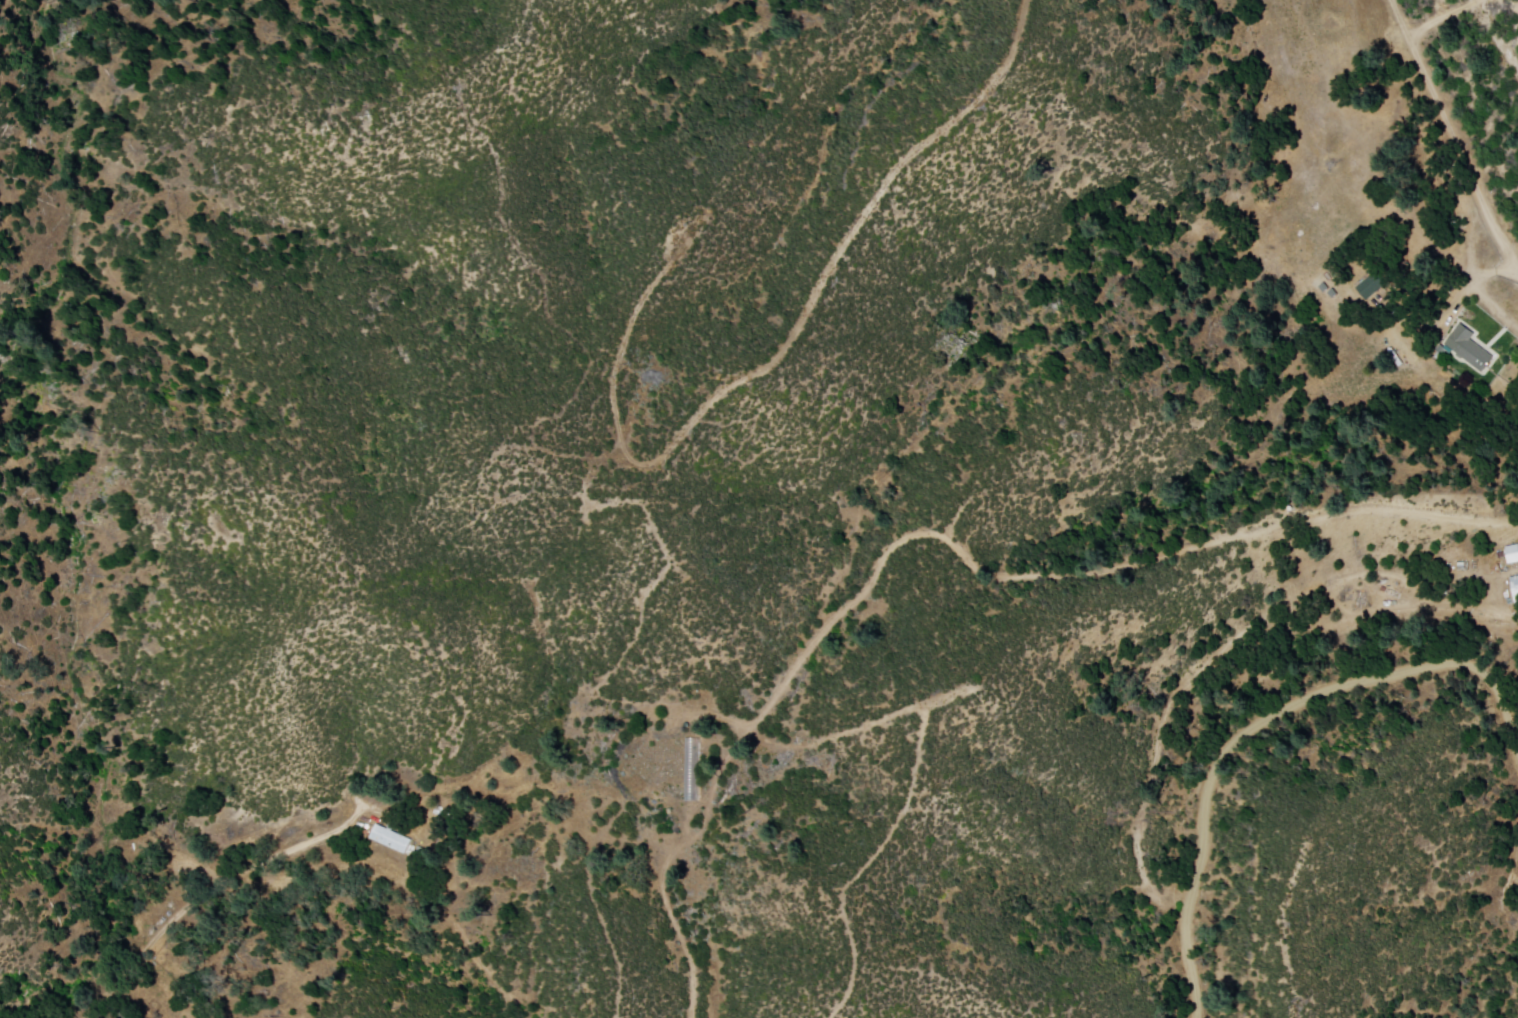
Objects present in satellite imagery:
road: (1452, 133)
road: (1484, 301)
building: (1471, 350)
building: (1512, 556)
building: (1516, 586)
road: (1253, 728)
building: (392, 840)
road: (211, 892)

